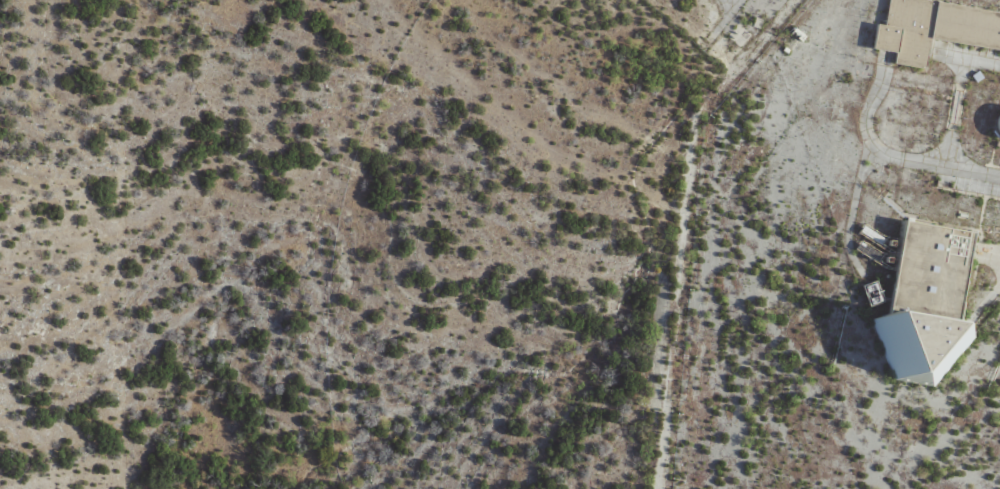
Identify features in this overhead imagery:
building: (932, 28)
road: (967, 56)
road: (874, 112)
road: (959, 113)
building: (996, 120)
road: (868, 174)
building: (928, 302)
road: (987, 308)

